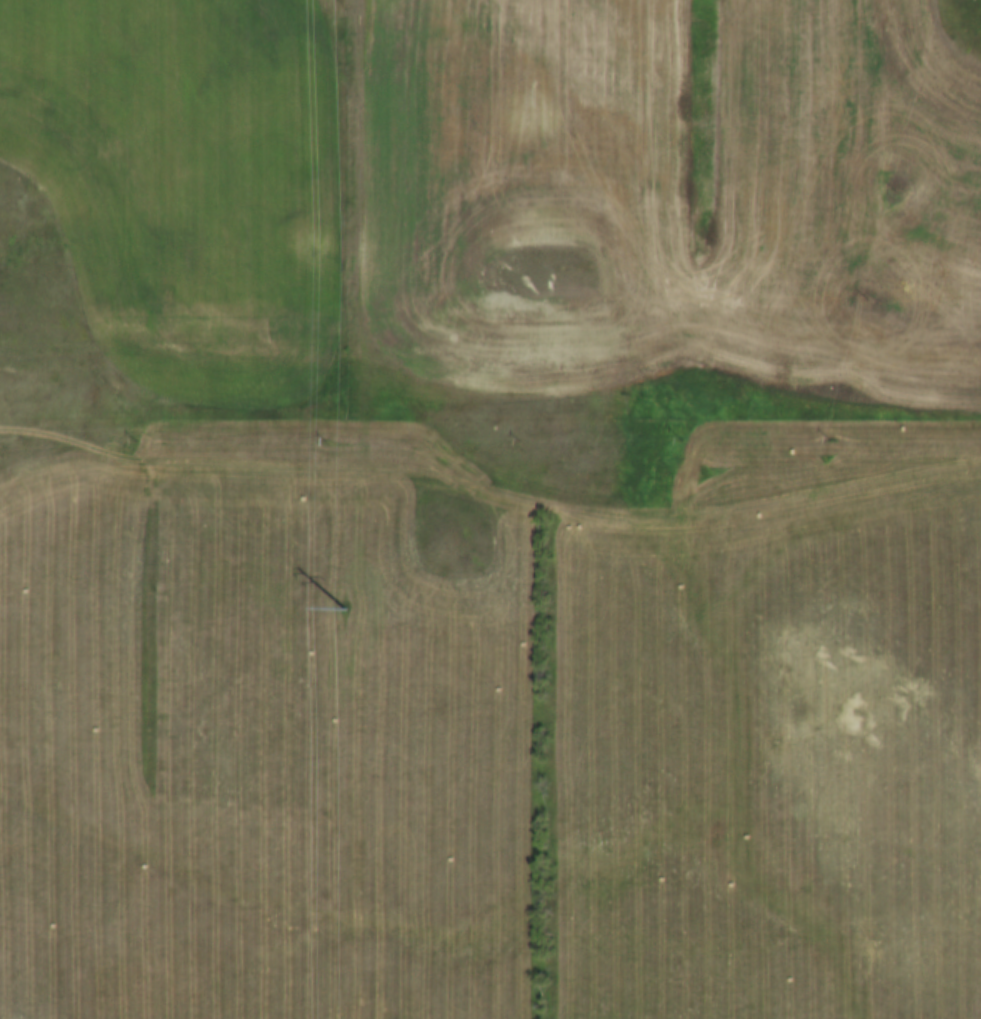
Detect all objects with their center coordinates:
road: (823, 410)
road: (496, 480)
power tower: (353, 606)

